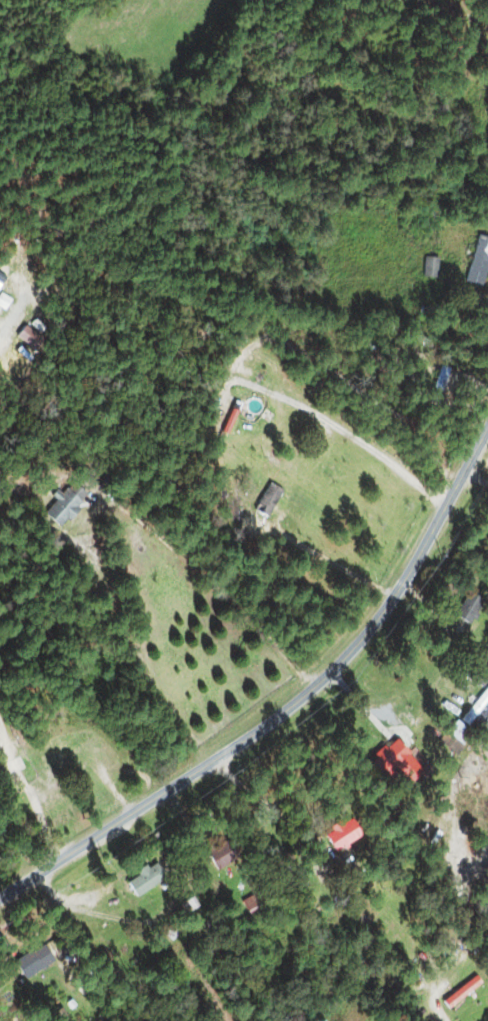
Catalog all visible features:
building: (478, 261)
building: (428, 266)
building: (438, 383)
building: (267, 500)
building: (63, 504)
building: (138, 529)
building: (467, 608)
road: (289, 706)
building: (485, 723)
building: (457, 733)
building: (53, 739)
building: (341, 834)
building: (221, 854)
building: (143, 879)
building: (252, 904)
building: (33, 962)
building: (461, 992)

